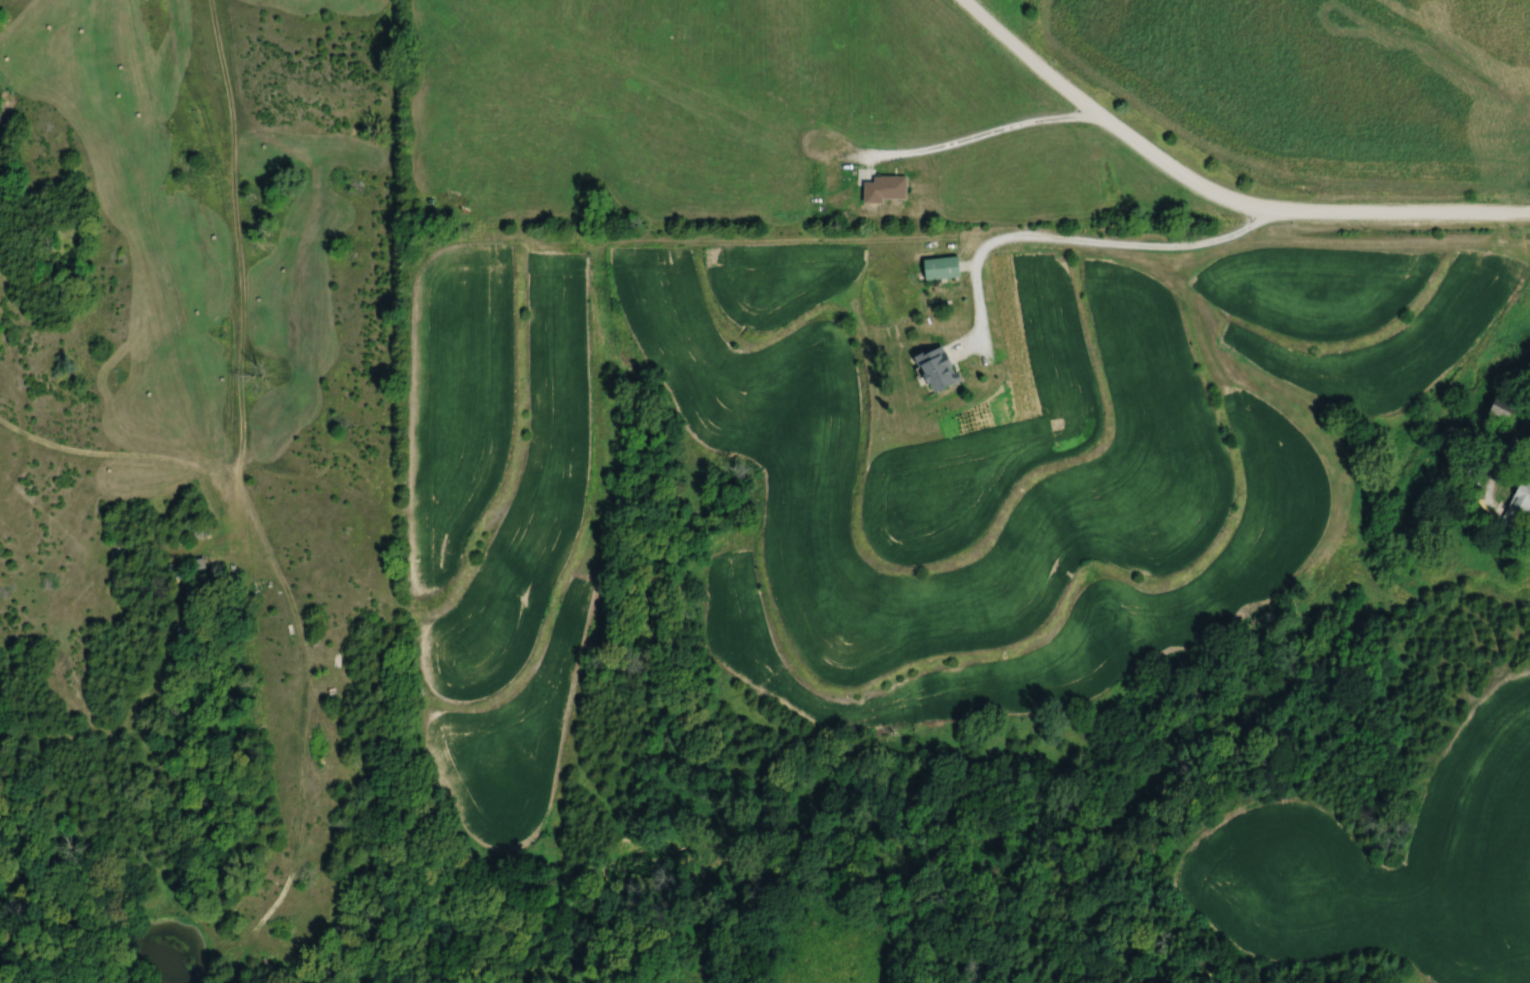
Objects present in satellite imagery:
road: (984, 138)
building: (880, 188)
road: (1213, 195)
road: (1075, 241)
building: (937, 267)
building: (931, 368)
building: (1497, 406)
road: (1499, 467)
building: (1516, 505)

